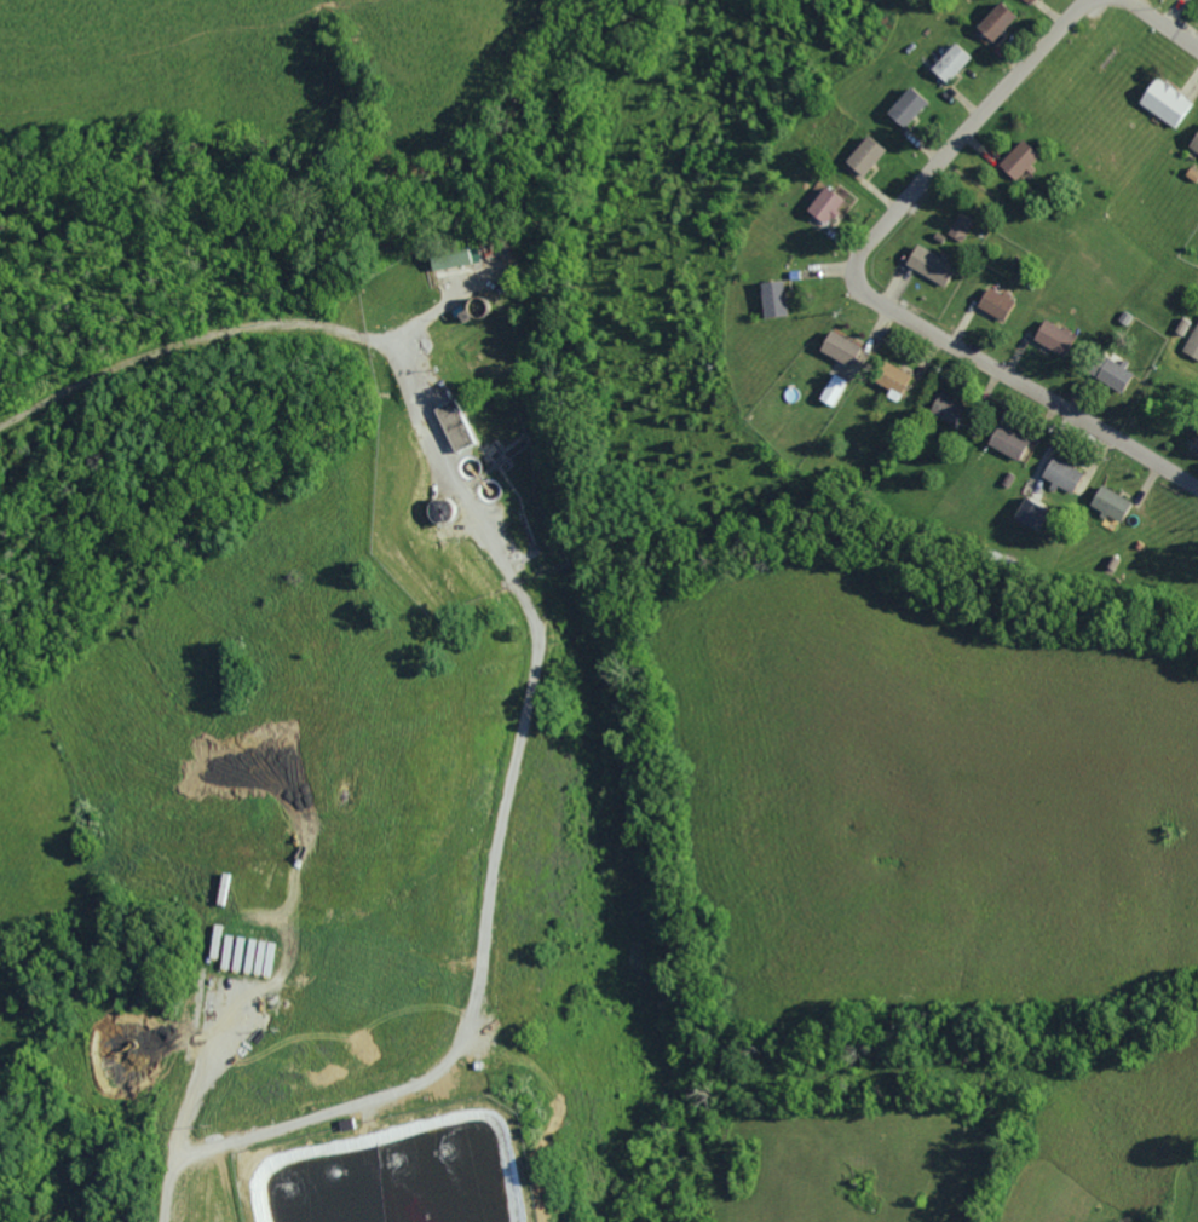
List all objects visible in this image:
building: (992, 21)
road: (1163, 24)
building: (948, 62)
building: (1162, 102)
building: (903, 105)
building: (1193, 142)
building: (862, 155)
building: (1015, 160)
building: (823, 204)
building: (958, 226)
building: (445, 260)
building: (926, 264)
road: (869, 289)
building: (770, 299)
building: (992, 302)
building: (1050, 336)
building: (1191, 342)
road: (172, 347)
building: (836, 347)
building: (1111, 374)
building: (889, 380)
building: (830, 390)
building: (945, 408)
wastewater plant: (454, 423)
building: (450, 426)
building: (1004, 442)
building: (1194, 444)
building: (1059, 474)
building: (1106, 502)
building: (1025, 513)
building: (248, 953)
wastewater plant: (402, 1170)

